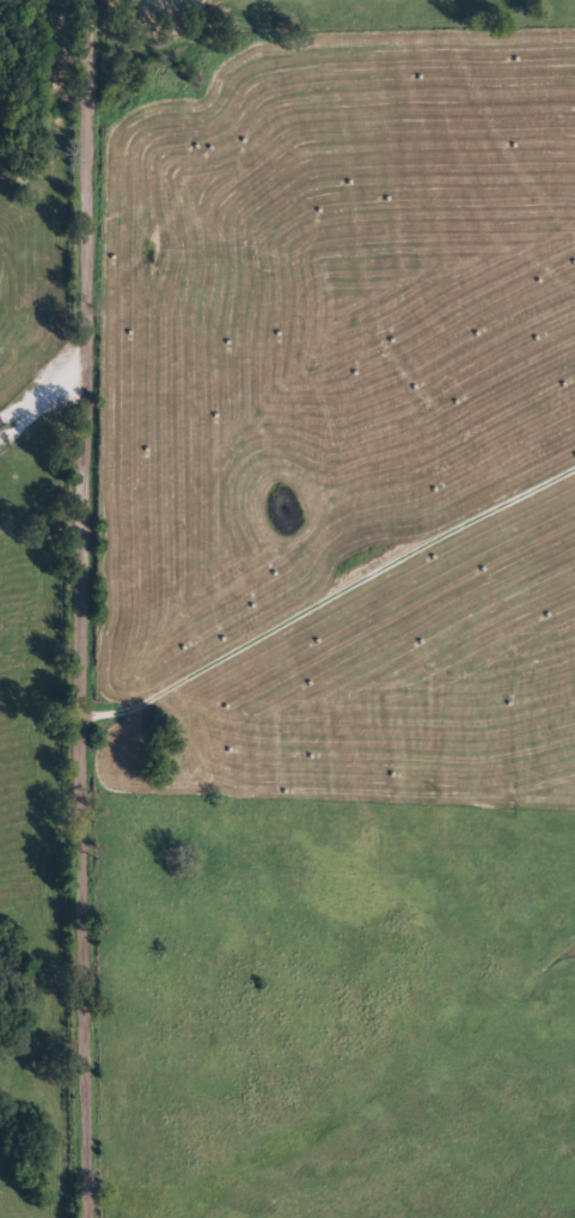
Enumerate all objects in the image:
road: (30, 428)
road: (61, 608)

